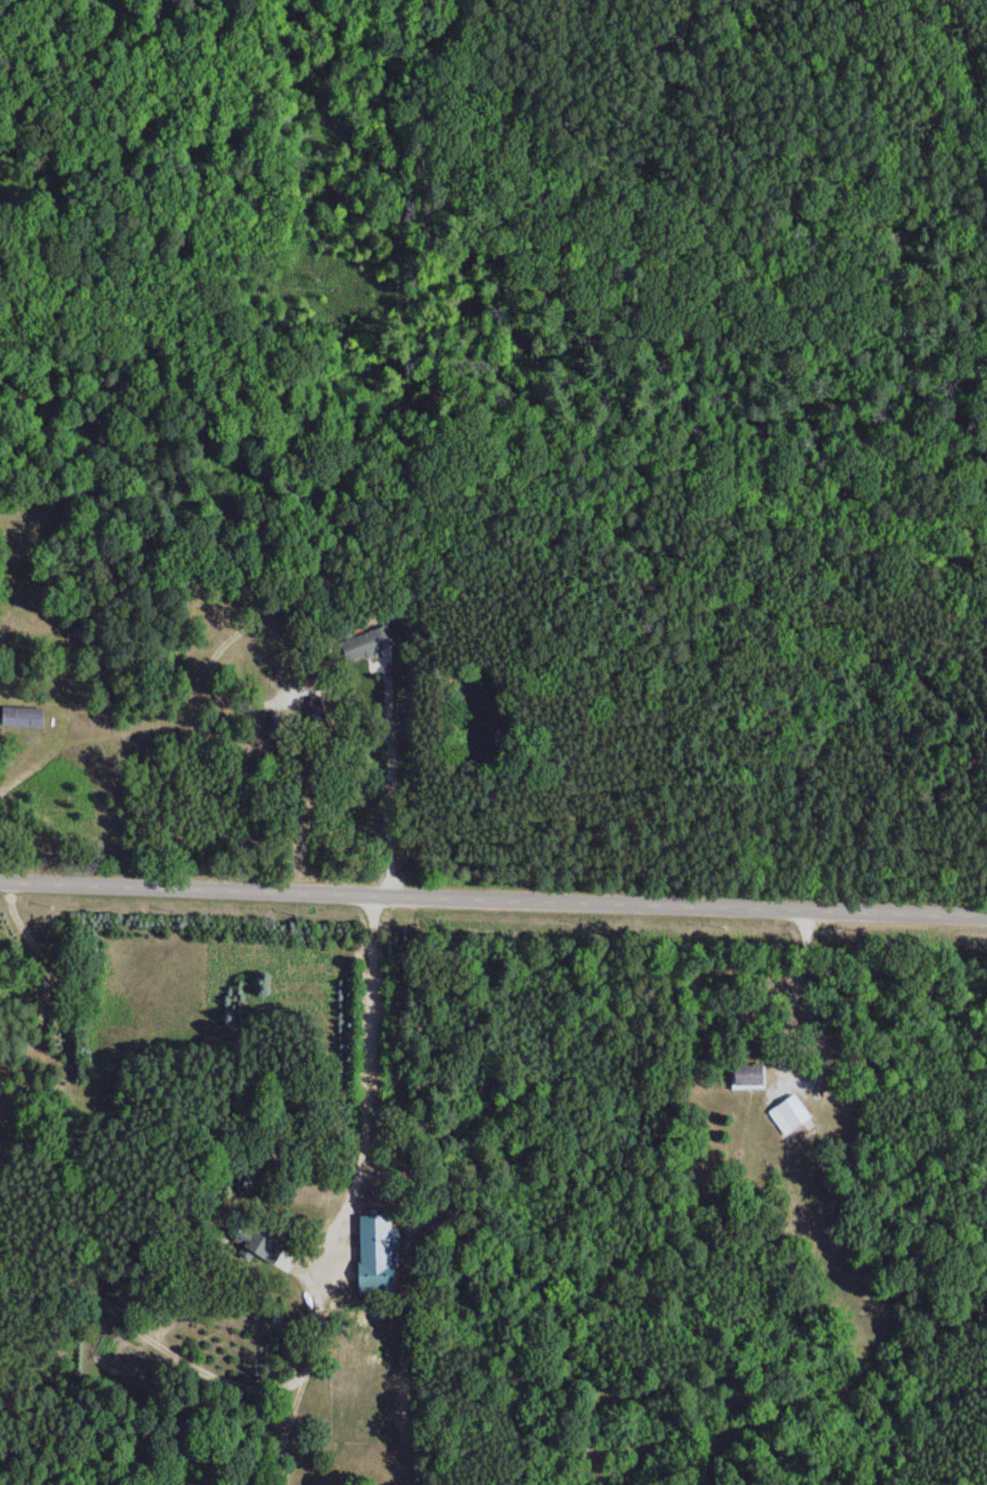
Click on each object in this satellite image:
road: (823, 114)
building: (367, 642)
building: (21, 716)
road: (493, 896)
building: (747, 1075)
building: (787, 1114)
road: (695, 1249)
building: (374, 1250)
building: (268, 1251)

